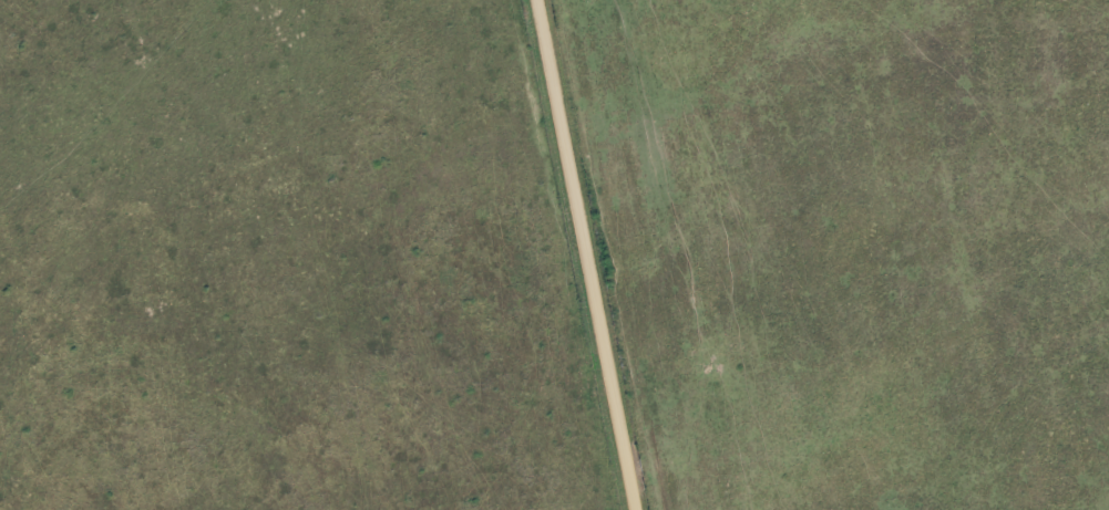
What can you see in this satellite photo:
road: (589, 254)

